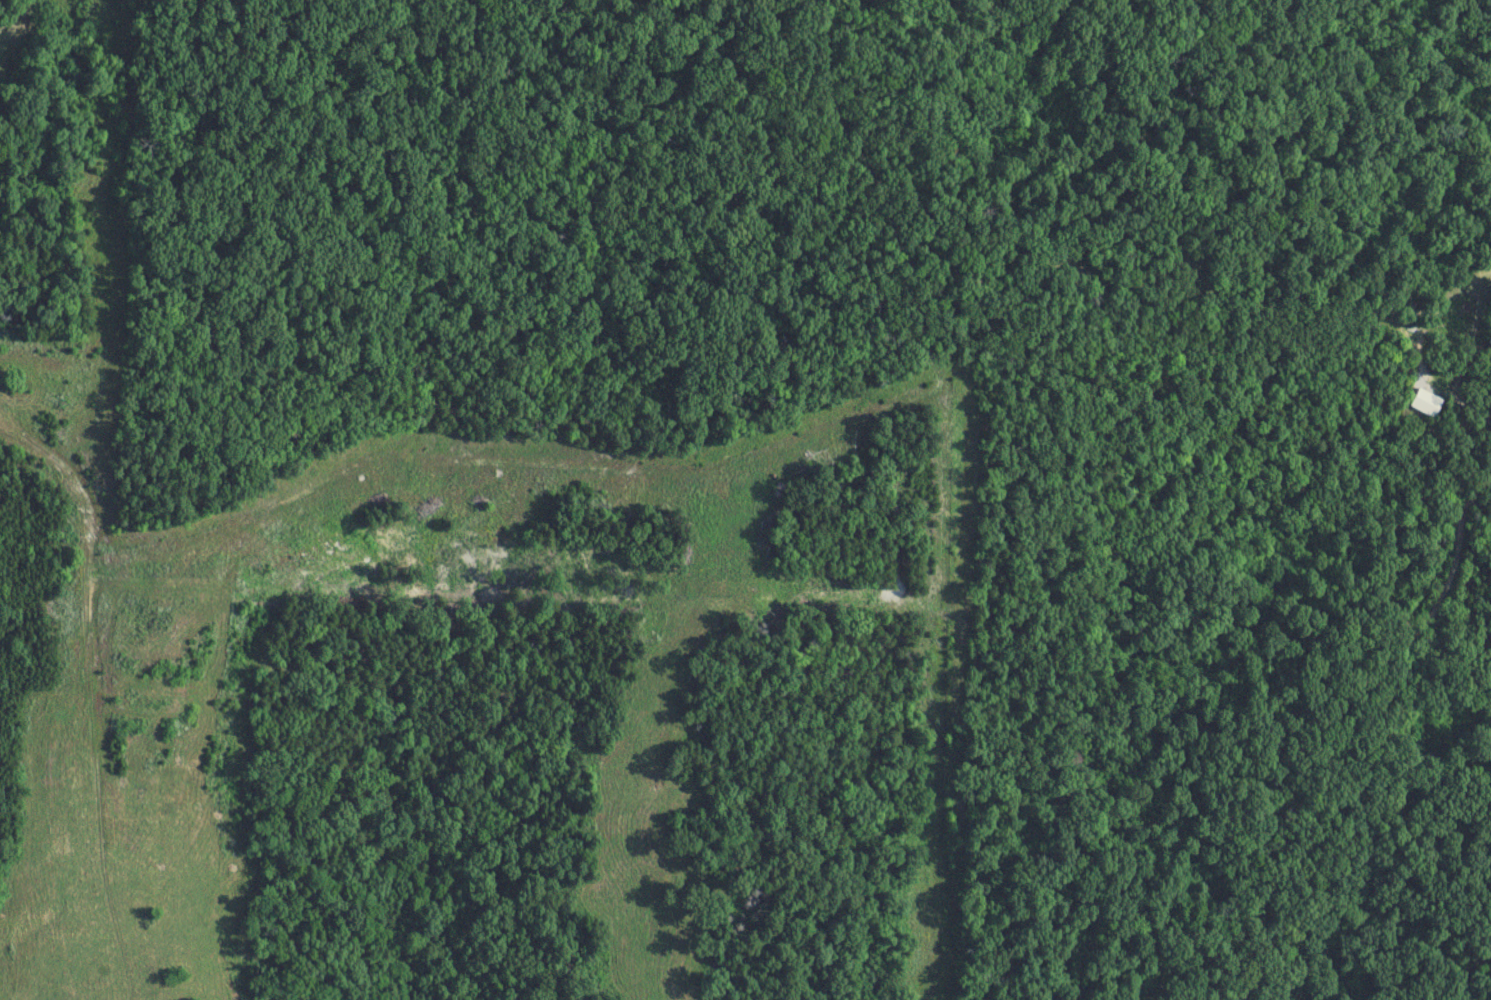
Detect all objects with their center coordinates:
road: (1336, 748)

